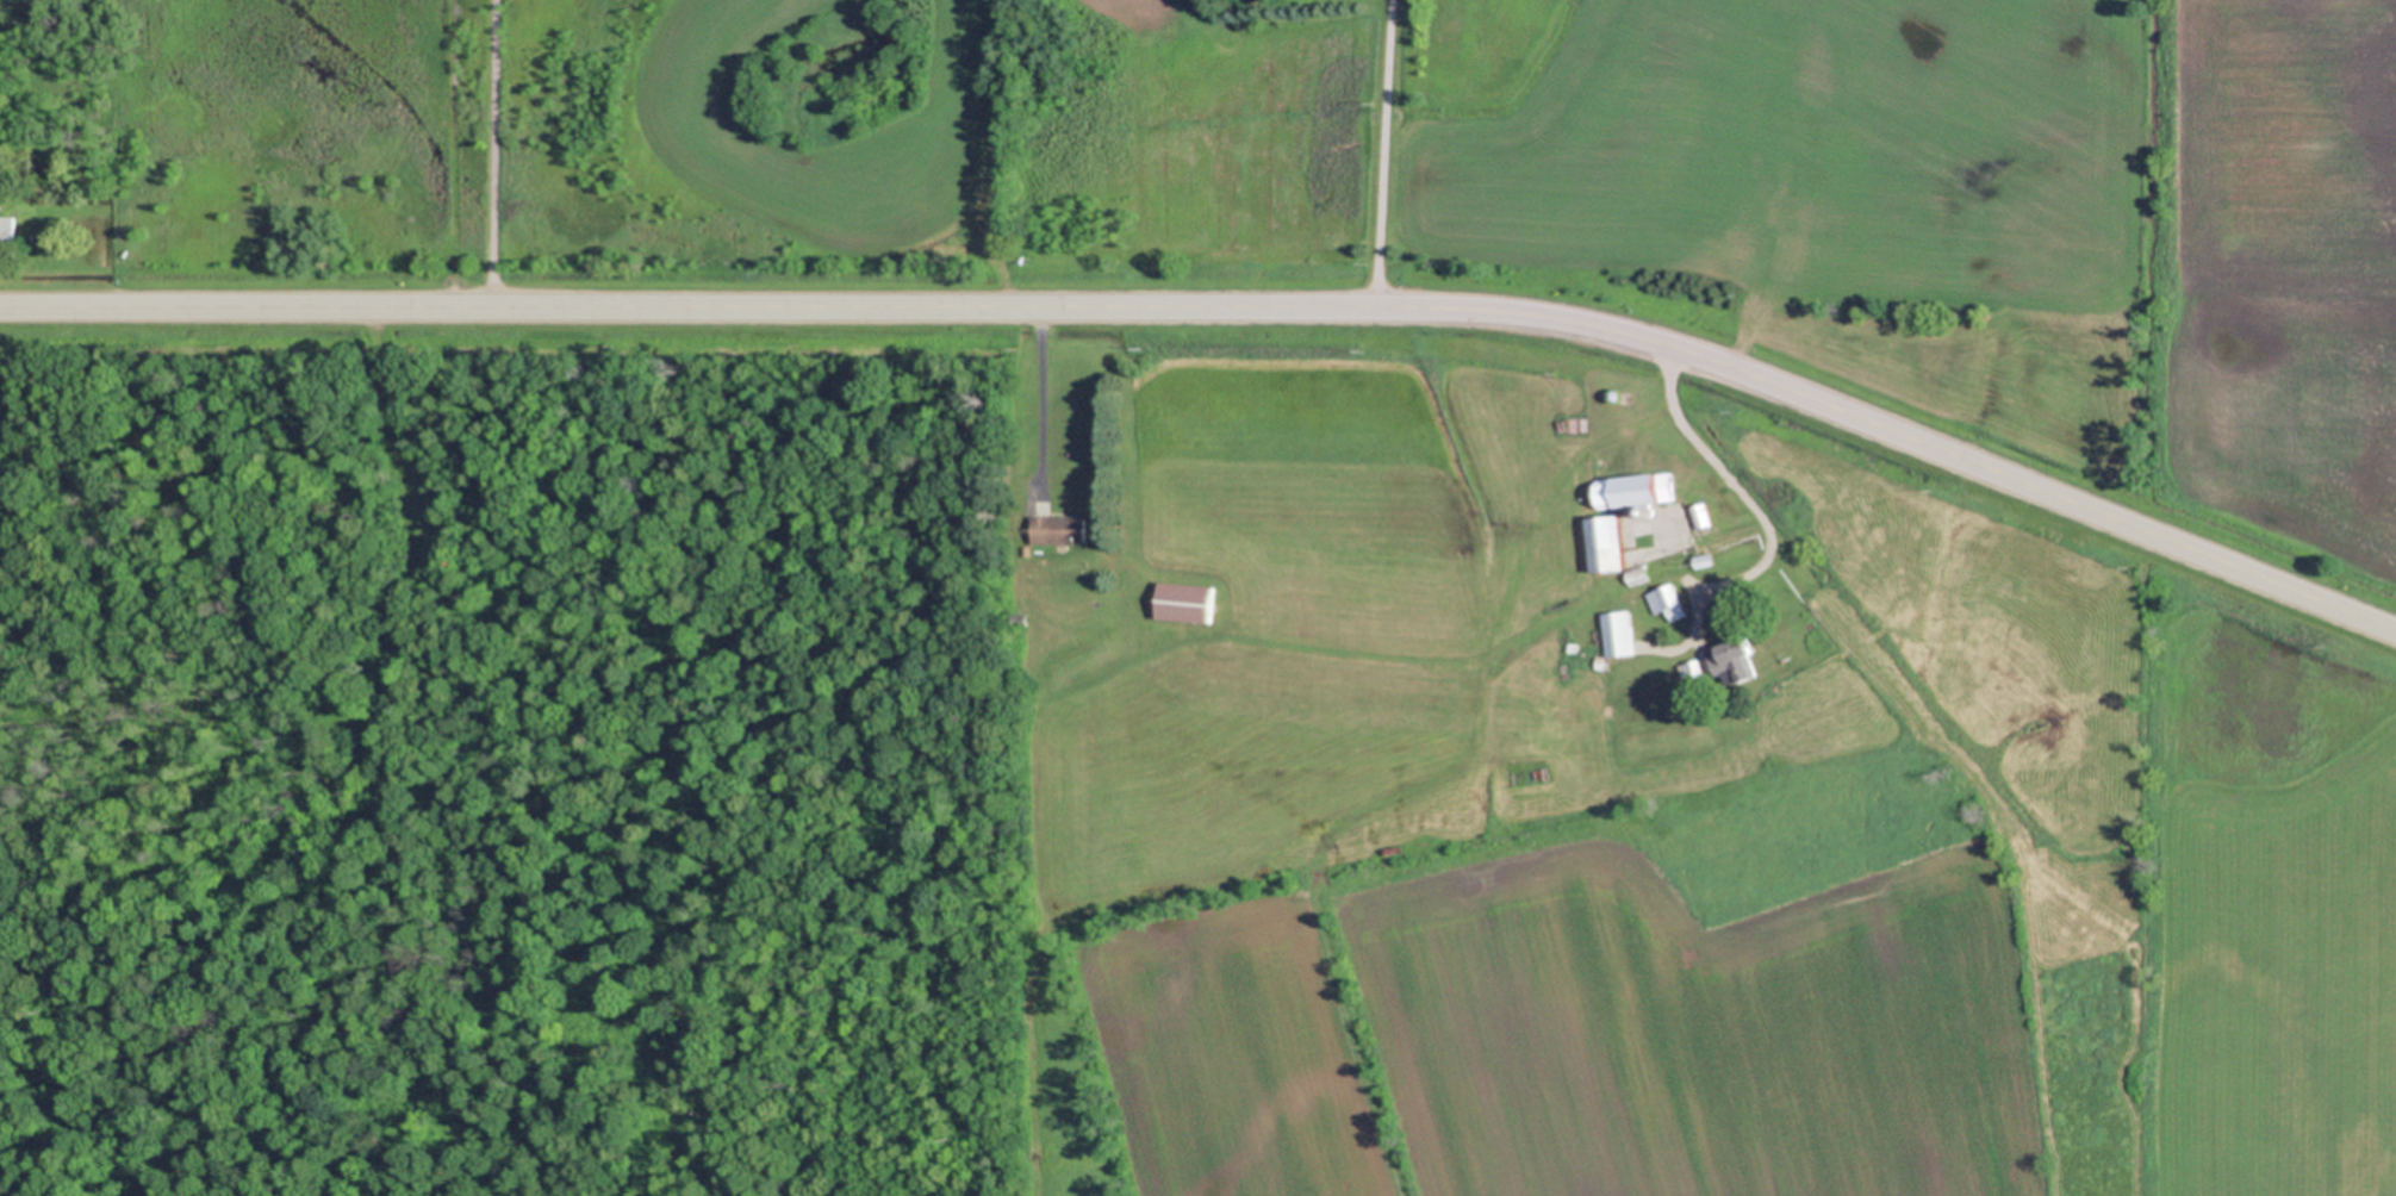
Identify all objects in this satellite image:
road: (1373, 151)
road: (498, 154)
building: (7, 238)
building: (122, 249)
building: (1021, 255)
road: (1226, 303)
building: (1613, 394)
road: (1041, 400)
road: (1737, 486)
building: (1632, 488)
building: (1643, 511)
building: (1700, 516)
building: (1058, 529)
building: (1604, 543)
building: (1025, 550)
building: (1701, 560)
building: (1635, 573)
building: (1183, 602)
building: (1666, 602)
building: (1022, 618)
building: (1617, 633)
building: (1570, 646)
building: (1714, 656)
building: (1736, 660)
building: (1600, 662)
building: (1686, 671)

